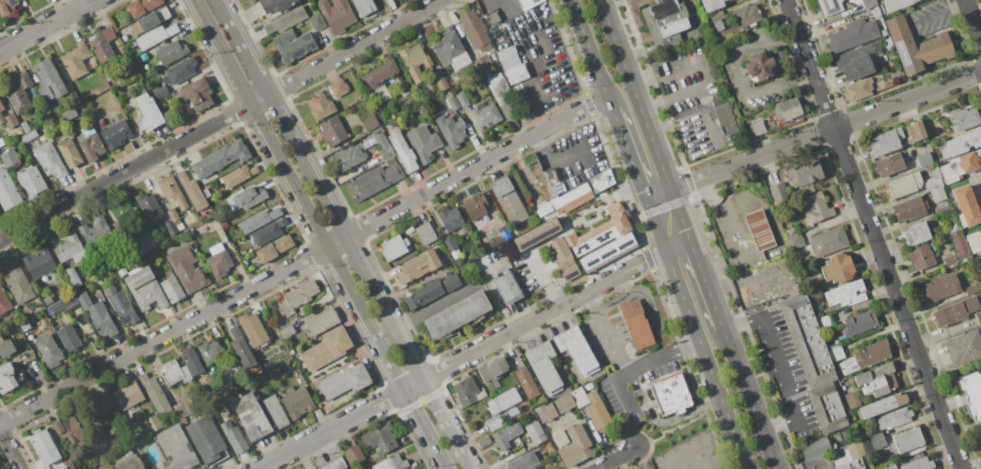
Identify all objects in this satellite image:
building: (249, 0)
building: (251, 0)
building: (530, 3)
building: (868, 3)
building: (712, 4)
building: (895, 4)
building: (275, 5)
building: (142, 6)
building: (830, 6)
building: (6, 7)
building: (364, 7)
building: (872, 12)
building: (336, 15)
building: (746, 15)
building: (717, 16)
building: (494, 17)
building: (151, 20)
building: (286, 20)
road: (973, 20)
building: (316, 21)
building: (665, 22)
road: (44, 24)
building: (718, 24)
building: (476, 31)
building: (852, 34)
building: (156, 36)
building: (125, 37)
building: (103, 44)
building: (293, 45)
building: (916, 46)
road: (353, 47)
building: (451, 49)
building: (171, 52)
road: (593, 55)
building: (143, 58)
building: (76, 61)
building: (415, 61)
building: (859, 61)
building: (93, 63)
building: (512, 65)
building: (759, 67)
building: (180, 70)
road: (660, 72)
building: (379, 73)
building: (49, 78)
building: (442, 78)
road: (697, 86)
building: (339, 87)
building: (858, 89)
building: (161, 92)
building: (198, 93)
building: (19, 94)
road: (669, 95)
building: (503, 96)
road: (258, 99)
building: (462, 99)
building: (453, 103)
building: (321, 104)
building: (1, 106)
building: (786, 110)
building: (148, 113)
building: (69, 114)
building: (486, 114)
road: (696, 114)
building: (724, 115)
road: (645, 118)
building: (963, 118)
building: (9, 120)
building: (101, 122)
building: (393, 122)
building: (370, 123)
building: (25, 127)
building: (758, 127)
building: (379, 129)
building: (451, 130)
building: (333, 131)
building: (915, 131)
road: (826, 133)
building: (116, 134)
building: (29, 136)
building: (886, 142)
building: (90, 143)
building: (423, 143)
building: (962, 144)
building: (384, 146)
building: (403, 152)
building: (69, 153)
road: (630, 155)
building: (350, 156)
building: (9, 158)
building: (221, 158)
building: (925, 159)
building: (50, 160)
building: (889, 165)
road: (475, 166)
building: (961, 166)
road: (125, 171)
building: (801, 172)
building: (238, 175)
building: (375, 180)
building: (538, 180)
building: (600, 180)
building: (30, 181)
building: (551, 181)
building: (904, 185)
building: (935, 188)
road: (317, 189)
building: (8, 191)
building: (192, 191)
building: (206, 193)
building: (779, 193)
road: (299, 194)
road: (660, 195)
building: (172, 197)
building: (249, 197)
building: (570, 198)
building: (509, 200)
building: (967, 206)
building: (149, 207)
building: (476, 207)
building: (815, 207)
building: (909, 209)
building: (949, 212)
building: (497, 217)
building: (451, 218)
building: (259, 220)
building: (224, 224)
building: (180, 226)
building: (170, 227)
building: (952, 227)
building: (118, 228)
building: (94, 231)
building: (761, 231)
building: (269, 232)
building: (191, 233)
building: (536, 233)
building: (426, 234)
building: (502, 234)
road: (874, 234)
building: (916, 234)
road: (738, 235)
building: (794, 237)
building: (602, 239)
building: (829, 241)
building: (143, 242)
road: (335, 242)
building: (974, 242)
road: (677, 243)
building: (238, 244)
building: (451, 244)
building: (394, 247)
building: (70, 248)
building: (274, 248)
building: (957, 248)
building: (456, 254)
building: (921, 257)
building: (563, 259)
building: (242, 260)
building: (486, 260)
building: (38, 262)
building: (978, 262)
building: (219, 263)
building: (419, 266)
building: (187, 268)
building: (838, 268)
building: (119, 270)
building: (73, 277)
road: (542, 279)
building: (451, 281)
road: (705, 281)
building: (17, 284)
road: (622, 284)
road: (751, 286)
building: (942, 287)
building: (973, 287)
building: (144, 288)
building: (508, 288)
building: (172, 289)
road: (491, 291)
road: (631, 292)
building: (846, 294)
building: (424, 295)
building: (299, 297)
building: (48, 300)
building: (4, 302)
building: (69, 302)
road: (590, 302)
building: (121, 305)
road: (432, 306)
building: (956, 311)
building: (457, 314)
road: (542, 314)
building: (97, 315)
building: (978, 316)
building: (323, 321)
building: (825, 321)
road: (650, 323)
building: (860, 323)
building: (635, 324)
building: (25, 326)
road: (637, 327)
building: (253, 330)
building: (14, 331)
building: (287, 331)
road: (163, 334)
road: (617, 334)
road: (697, 334)
building: (69, 338)
parking lot: (603, 339)
building: (806, 340)
road: (610, 342)
road: (688, 343)
building: (6, 347)
building: (964, 347)
building: (241, 348)
building: (327, 349)
building: (576, 350)
building: (49, 351)
building: (211, 352)
building: (836, 352)
building: (866, 357)
building: (192, 362)
parking lot: (656, 363)
road: (662, 366)
building: (544, 367)
road: (779, 367)
road: (632, 370)
building: (494, 371)
road: (678, 371)
building: (174, 372)
building: (524, 377)
building: (7, 379)
building: (262, 379)
building: (345, 380)
building: (878, 380)
road: (411, 384)
building: (589, 386)
building: (466, 390)
building: (971, 393)
building: (128, 394)
building: (154, 394)
building: (670, 395)
road: (748, 397)
parking lot: (619, 399)
building: (853, 399)
building: (580, 400)
building: (298, 401)
building: (505, 403)
building: (564, 403)
building: (106, 404)
building: (882, 405)
road: (638, 406)
building: (828, 408)
building: (180, 409)
building: (275, 412)
building: (545, 412)
building: (597, 412)
building: (250, 416)
building: (894, 418)
road: (664, 421)
building: (153, 423)
road: (443, 424)
building: (494, 424)
road: (680, 425)
road: (330, 428)
road: (425, 428)
building: (69, 429)
building: (535, 432)
building: (506, 435)
building: (234, 437)
building: (837, 437)
building: (980, 437)
building: (380, 438)
building: (206, 440)
building: (907, 440)
building: (484, 442)
building: (876, 442)
building: (980, 443)
building: (571, 444)
building: (44, 446)
road: (10, 448)
building: (176, 448)
building: (816, 448)
building: (838, 452)
building: (354, 454)
road: (615, 457)
building: (852, 457)
building: (128, 461)
building: (523, 461)
building: (388, 463)
building: (335, 464)
building: (919, 464)
building: (891, 467)
building: (62, 468)
building: (63, 468)
building: (533, 468)
building: (883, 468)

